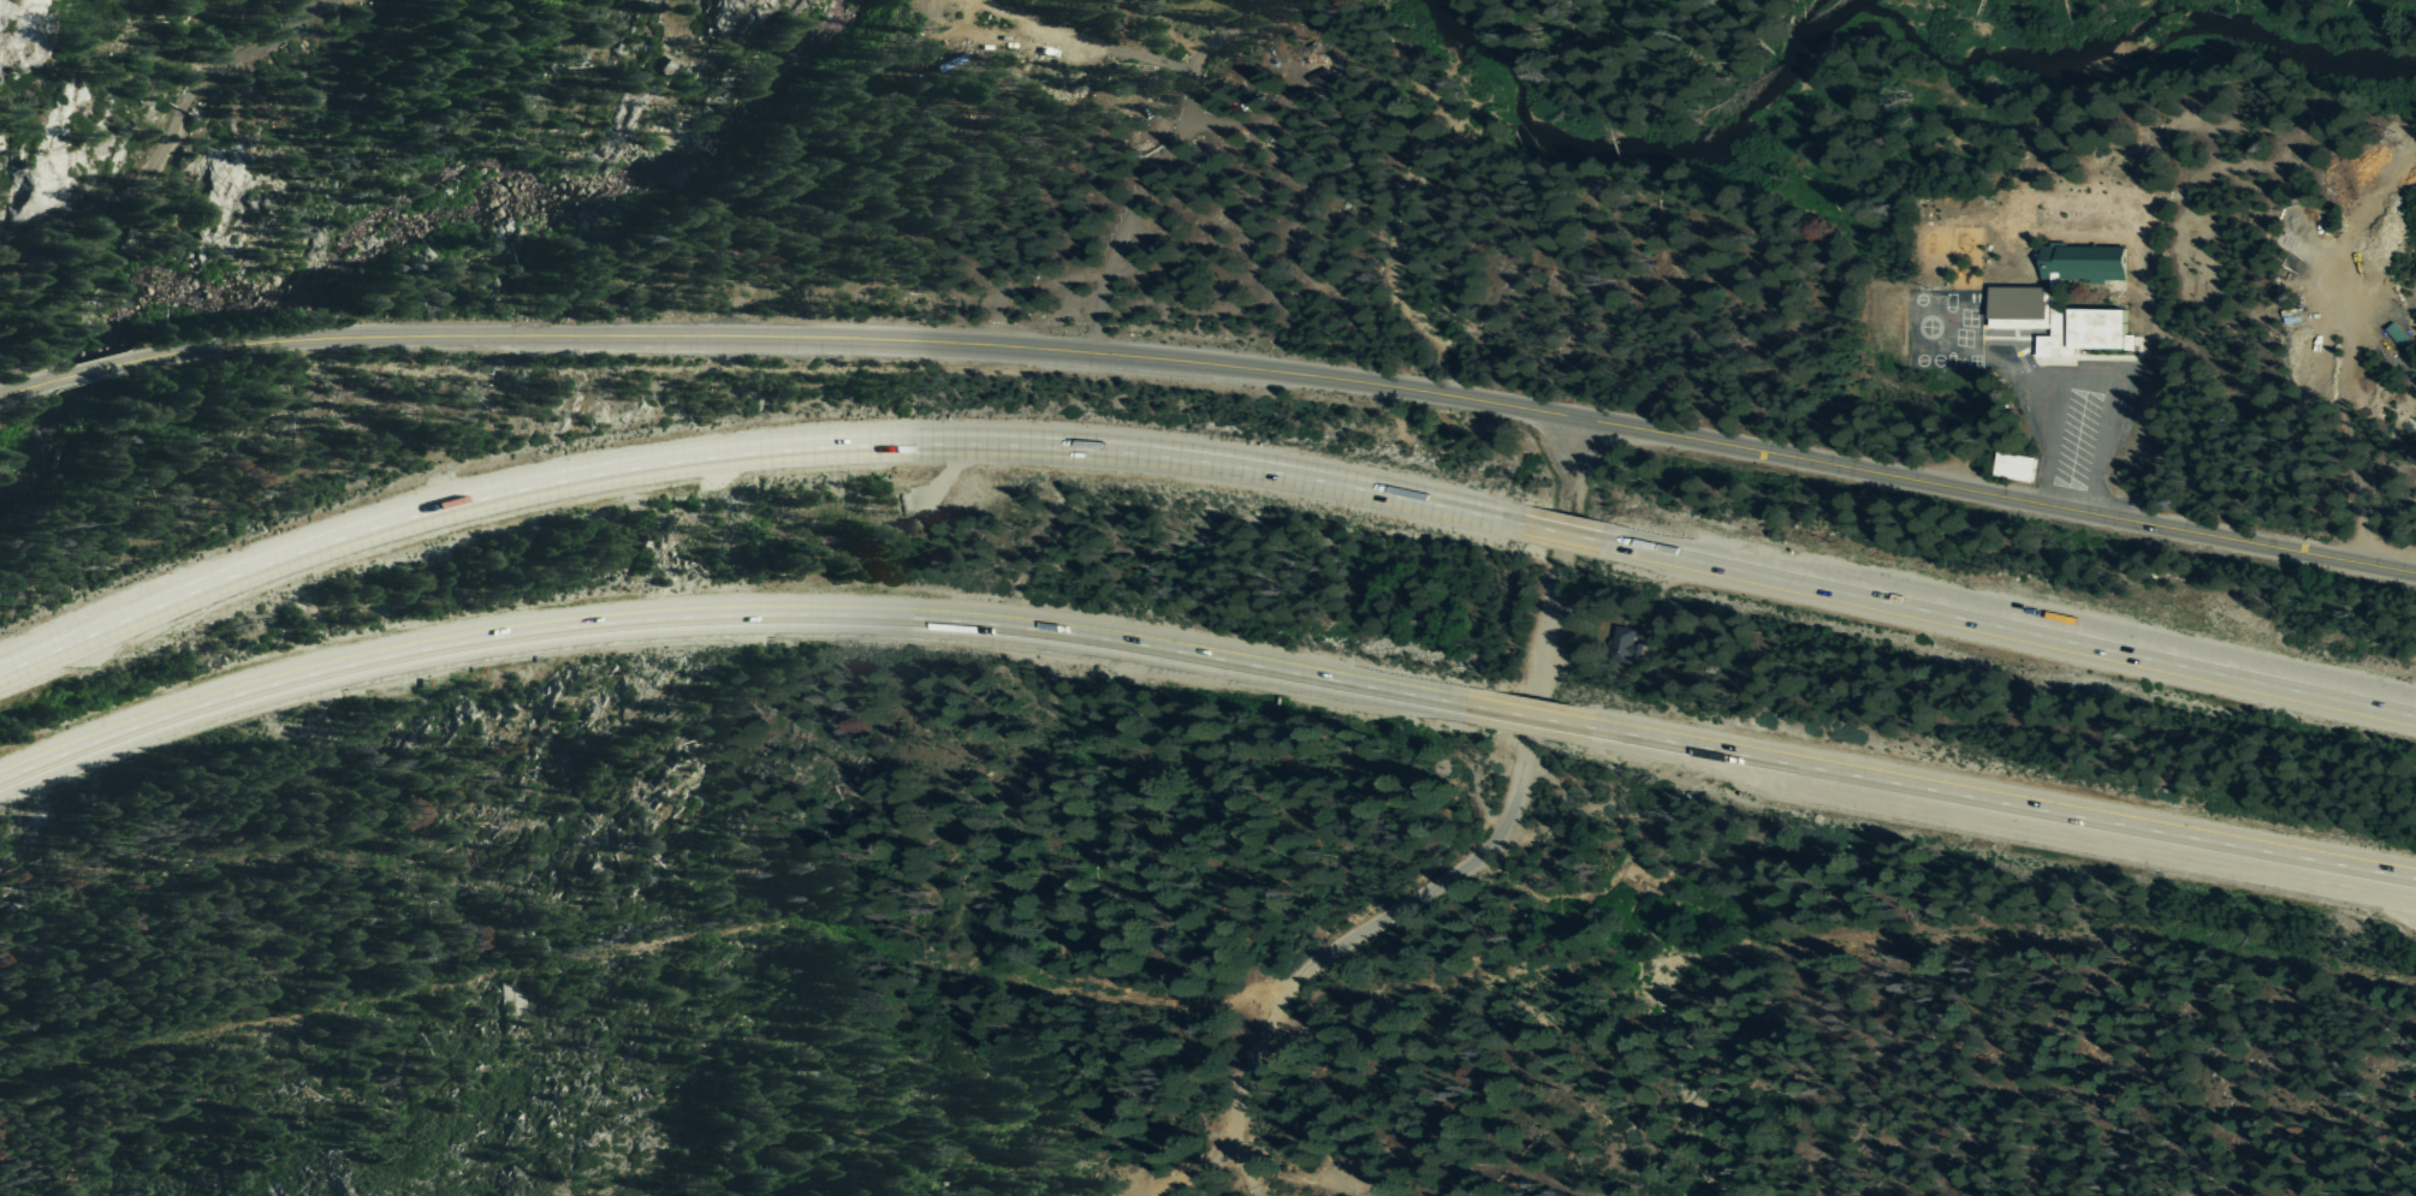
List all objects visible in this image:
river: (797, 47)
river: (2272, 55)
road: (165, 136)
river: (1746, 155)
river: (348, 262)
building: (2028, 302)
road: (85, 370)
road: (1278, 370)
road: (22, 388)
parking lot: (2072, 424)
road: (747, 452)
road: (1561, 534)
road: (732, 617)
road: (2008, 631)
road: (1526, 718)
road: (1520, 761)
road: (1990, 807)
road: (1241, 1094)
road: (1182, 1171)

